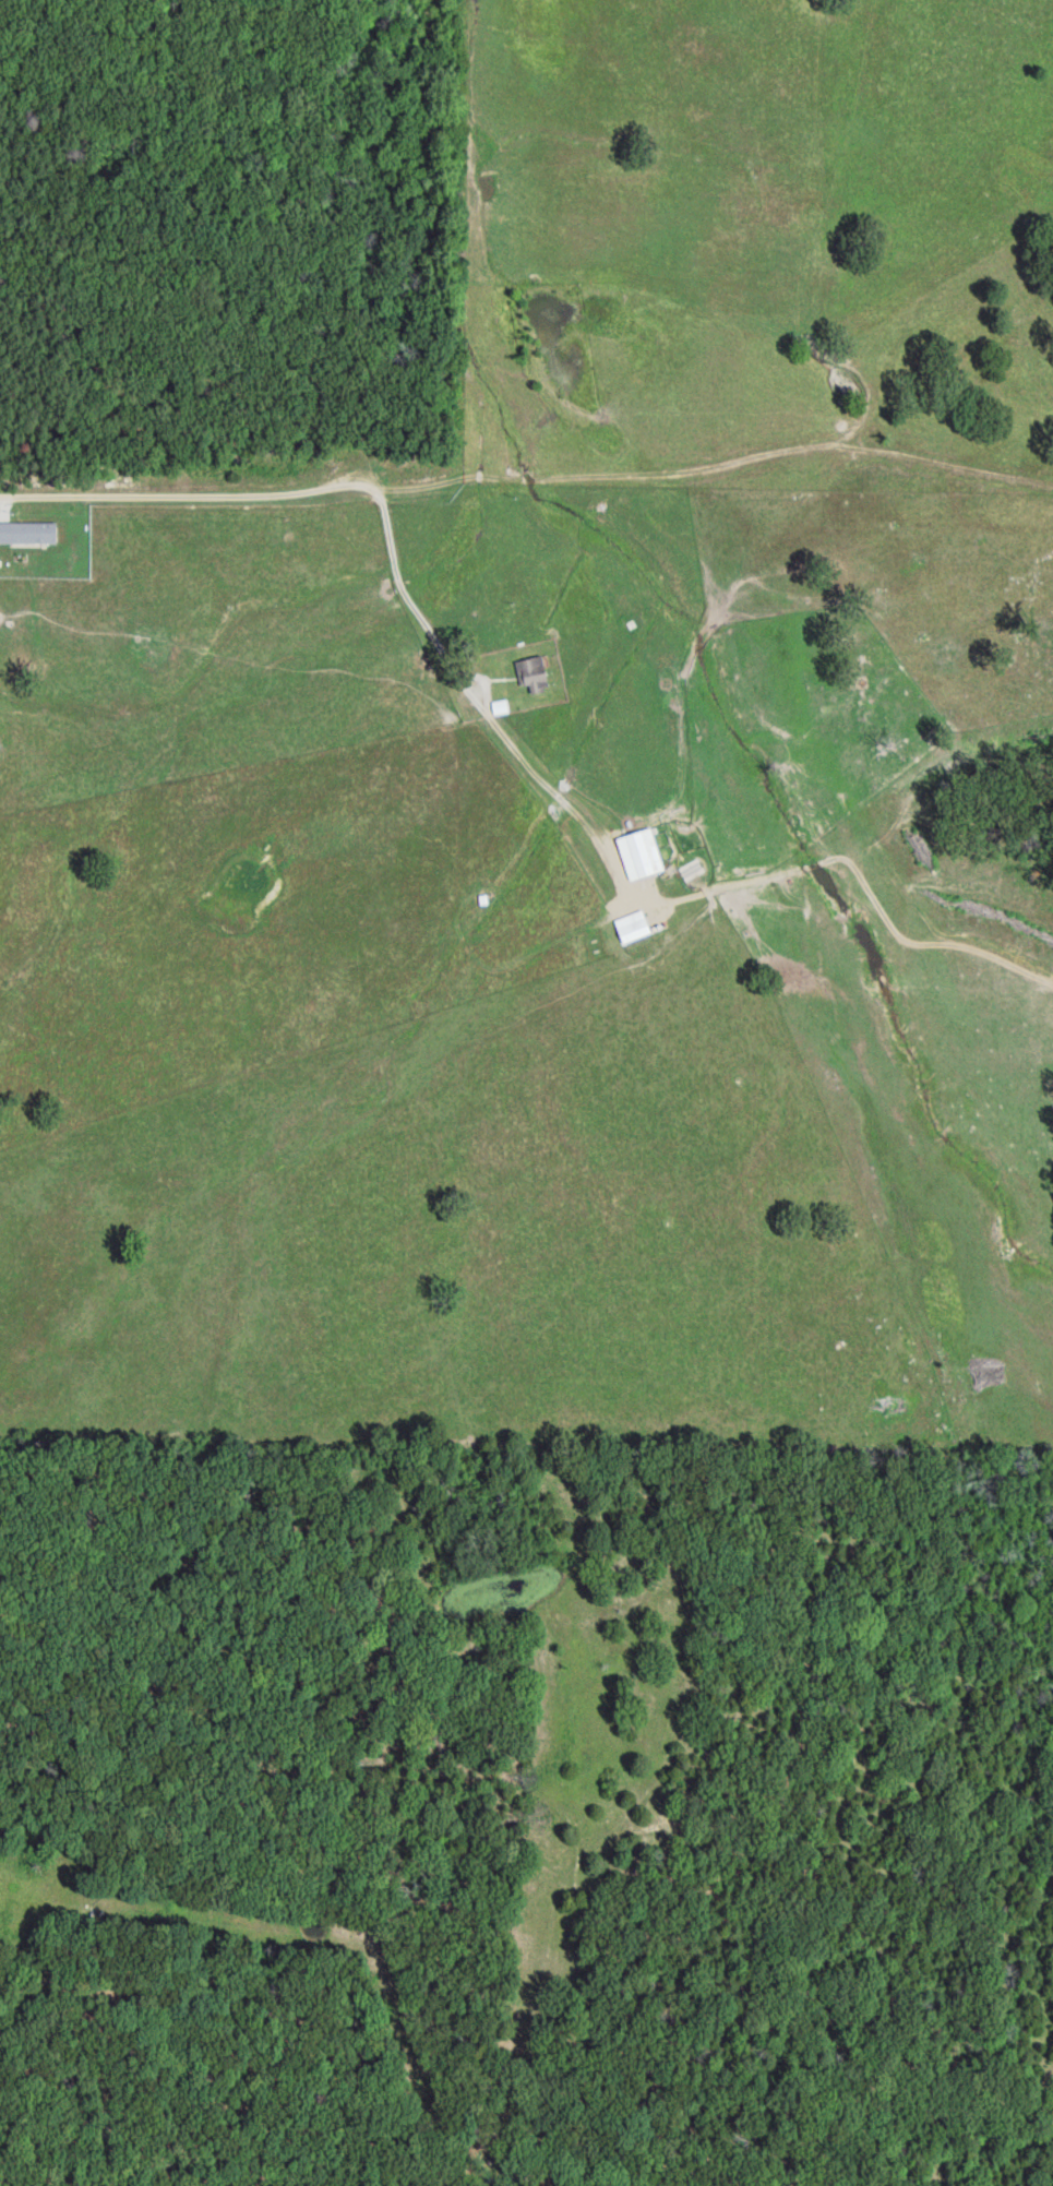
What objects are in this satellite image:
building: (31, 531)
road: (386, 542)
building: (535, 673)
building: (502, 706)
building: (643, 853)
building: (634, 927)

